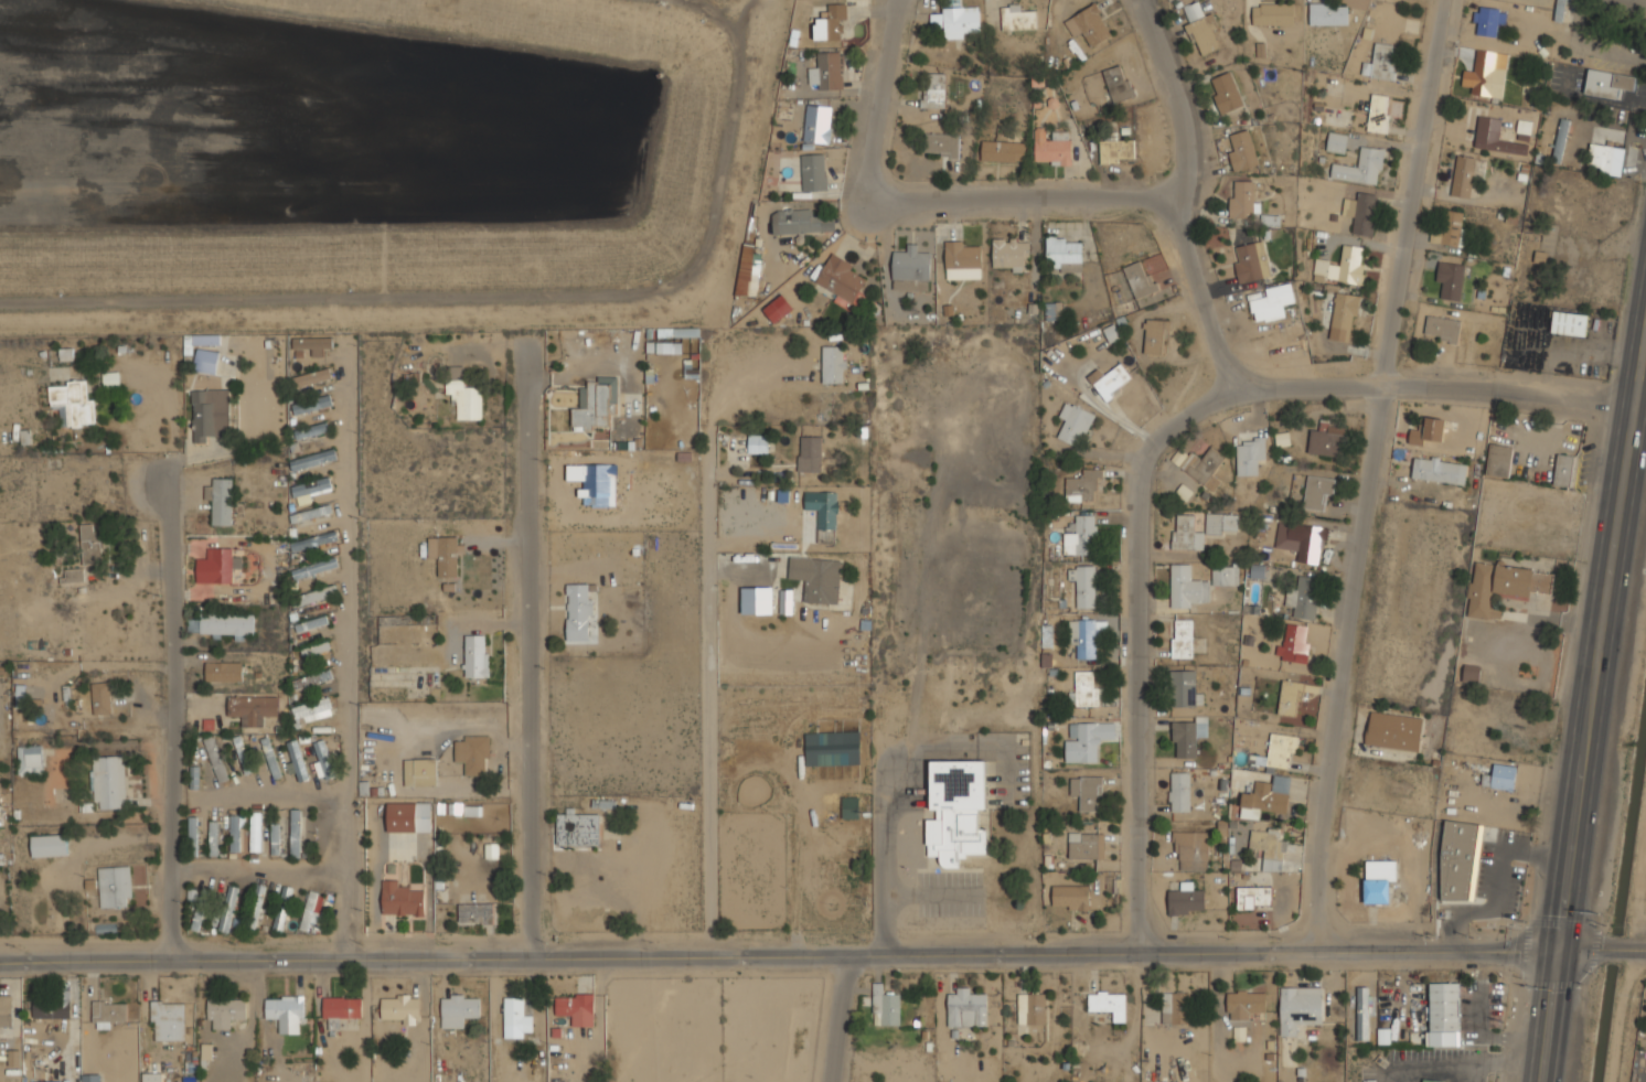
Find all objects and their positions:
building: (1561, 10)
building: (1273, 13)
building: (1329, 13)
building: (1017, 17)
building: (1488, 20)
building: (961, 22)
building: (831, 23)
building: (1089, 25)
building: (1203, 29)
building: (1381, 62)
building: (825, 72)
building: (1485, 79)
building: (1119, 83)
building: (1608, 83)
building: (932, 90)
building: (1226, 93)
building: (1379, 114)
building: (817, 122)
building: (1524, 127)
building: (1558, 141)
building: (1337, 142)
building: (1498, 143)
building: (941, 146)
building: (1051, 148)
building: (1241, 150)
building: (1002, 151)
building: (1118, 151)
building: (1605, 159)
building: (1362, 167)
building: (813, 172)
building: (1463, 176)
road: (930, 191)
road: (1184, 191)
building: (1242, 201)
building: (1361, 213)
building: (802, 222)
building: (1451, 231)
building: (1064, 253)
building: (1009, 254)
building: (963, 257)
building: (1251, 263)
building: (1343, 266)
building: (910, 268)
building: (748, 271)
building: (840, 278)
building: (1141, 279)
building: (1451, 280)
dam: (511, 291)
road: (512, 302)
building: (1272, 302)
building: (777, 308)
building: (1051, 311)
building: (1344, 317)
building: (1570, 323)
building: (1442, 329)
building: (1111, 333)
building: (1155, 338)
building: (204, 340)
building: (309, 342)
building: (667, 347)
building: (65, 355)
building: (205, 361)
building: (834, 364)
building: (311, 378)
building: (110, 379)
road: (1430, 379)
building: (1110, 382)
building: (464, 400)
building: (74, 401)
building: (596, 404)
building: (312, 405)
building: (202, 416)
building: (1075, 425)
building: (312, 430)
building: (1430, 431)
building: (1211, 435)
building: (1327, 439)
building: (756, 443)
building: (1250, 454)
building: (809, 456)
building: (312, 460)
building: (1498, 461)
building: (1201, 467)
building: (1441, 470)
building: (1565, 471)
road: (1364, 474)
building: (1083, 486)
building: (309, 490)
building: (1184, 492)
building: (1317, 493)
building: (221, 501)
building: (311, 514)
building: (823, 514)
building: (1221, 524)
building: (1186, 533)
building: (1080, 536)
building: (313, 542)
building: (1307, 542)
building: (90, 544)
building: (445, 554)
building: (224, 564)
building: (314, 568)
building: (1225, 575)
building: (73, 576)
building: (817, 578)
building: (1083, 585)
building: (1188, 587)
building: (1504, 587)
building: (314, 596)
building: (1303, 599)
building: (757, 600)
building: (785, 601)
building: (578, 612)
building: (226, 623)
building: (311, 624)
building: (96, 631)
building: (1084, 636)
building: (1182, 639)
road: (709, 642)
building: (1294, 643)
road: (1140, 645)
building: (316, 650)
road: (530, 651)
road: (346, 653)
building: (477, 657)
building: (224, 672)
building: (1472, 673)
building: (312, 679)
building: (1184, 687)
building: (1087, 688)
building: (101, 698)
building: (1290, 698)
building: (253, 708)
road: (173, 710)
building: (312, 710)
building: (217, 716)
road: (1591, 718)
building: (1394, 731)
building: (1187, 737)
building: (1086, 740)
building: (832, 748)
building: (1282, 751)
building: (243, 754)
building: (475, 756)
building: (270, 757)
building: (215, 759)
building: (30, 760)
building: (322, 760)
building: (296, 761)
building: (419, 772)
building: (1501, 776)
building: (195, 780)
building: (108, 781)
building: (1087, 792)
building: (1179, 792)
building: (1264, 796)
building: (1, 803)
road: (888, 804)
building: (849, 807)
building: (956, 811)
building: (408, 817)
building: (577, 828)
building: (1226, 828)
building: (255, 832)
building: (235, 834)
building: (296, 834)
building: (192, 835)
building: (275, 837)
building: (213, 838)
building: (50, 845)
building: (1086, 845)
building: (1270, 848)
building: (1186, 849)
building: (491, 850)
building: (1457, 861)
road: (259, 868)
building: (1379, 881)
building: (115, 887)
building: (1070, 898)
building: (1255, 898)
building: (400, 899)
building: (1184, 899)
building: (228, 908)
building: (255, 908)
building: (282, 909)
building: (199, 911)
building: (311, 911)
building: (475, 913)
traffic signals: (1557, 945)
road: (1601, 945)
road: (778, 956)
building: (1109, 1004)
building: (1244, 1004)
building: (885, 1007)
building: (1175, 1007)
building: (52, 1008)
building: (399, 1008)
building: (576, 1008)
building: (966, 1008)
building: (1032, 1008)
building: (1301, 1008)
building: (341, 1009)
building: (459, 1009)
building: (6, 1010)
building: (225, 1013)
building: (286, 1013)
building: (107, 1014)
building: (1362, 1014)
building: (1445, 1015)
building: (517, 1017)
road: (838, 1019)
building: (168, 1020)
building: (152, 1078)
building: (92, 1079)
building: (49, 1081)
building: (1420, 1081)

